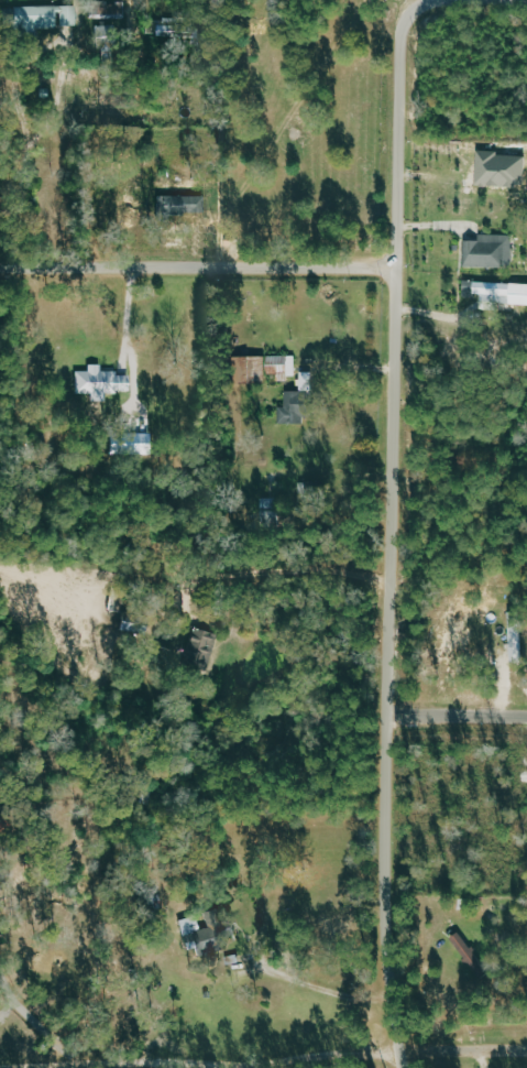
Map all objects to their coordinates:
road: (472, 0)
road: (408, 6)
building: (109, 10)
building: (42, 17)
road: (21, 99)
road: (232, 154)
building: (499, 168)
building: (182, 205)
building: (488, 251)
road: (199, 268)
building: (502, 292)
road: (127, 317)
road: (450, 317)
building: (262, 369)
building: (99, 382)
building: (292, 408)
road: (392, 535)
road: (289, 574)
building: (201, 646)
road: (457, 716)
building: (227, 928)
building: (190, 931)
building: (468, 952)
road: (36, 1021)
road: (462, 1051)
road: (492, 1059)
road: (231, 1067)

